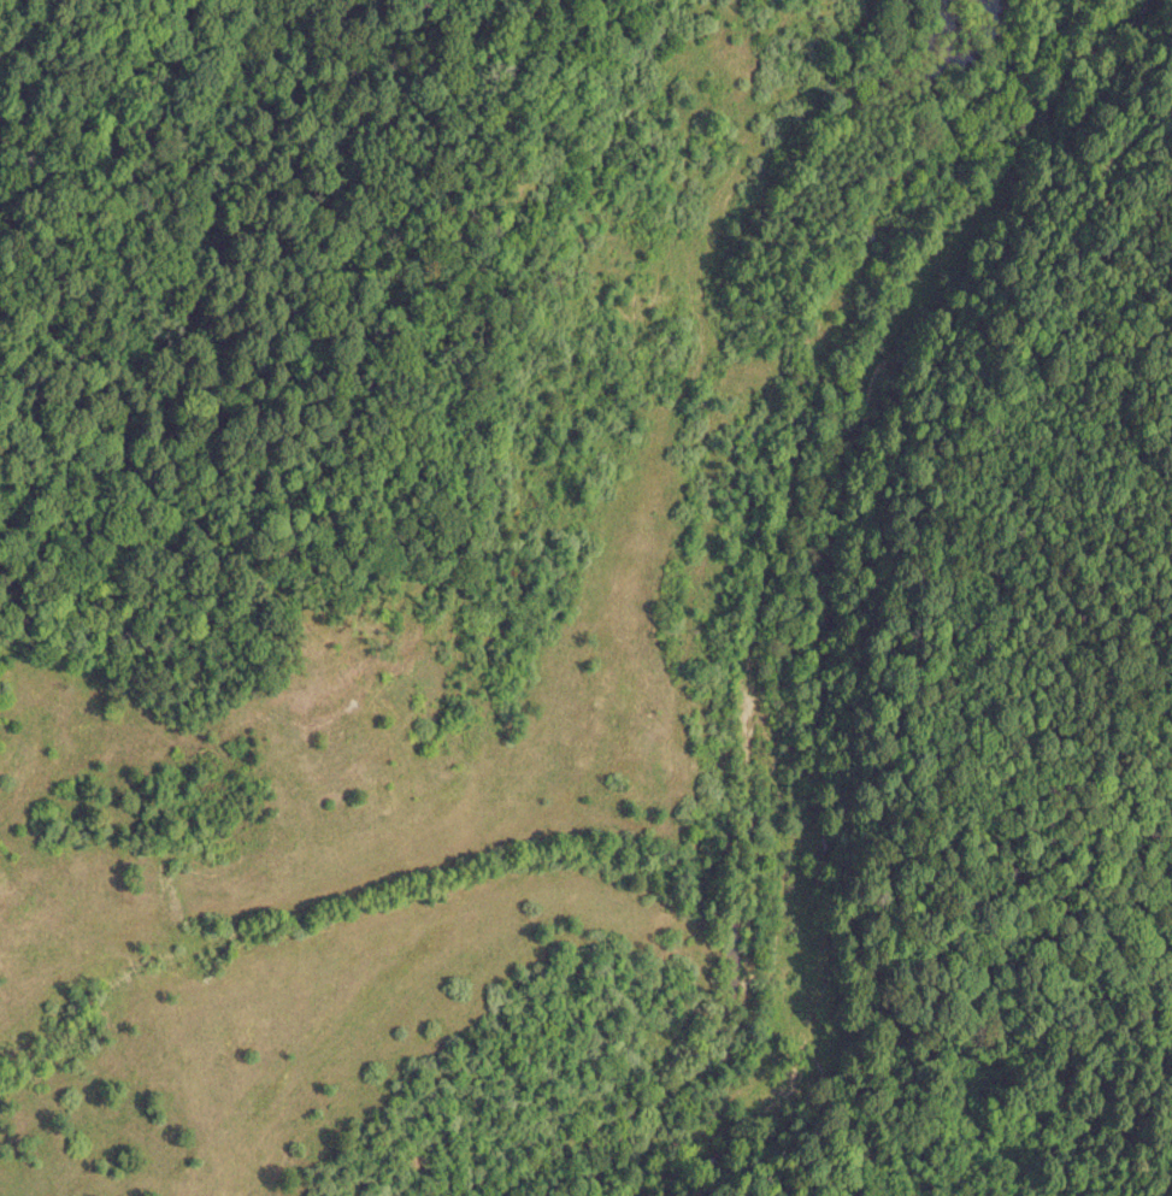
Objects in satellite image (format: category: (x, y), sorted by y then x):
road: (625, 602)

